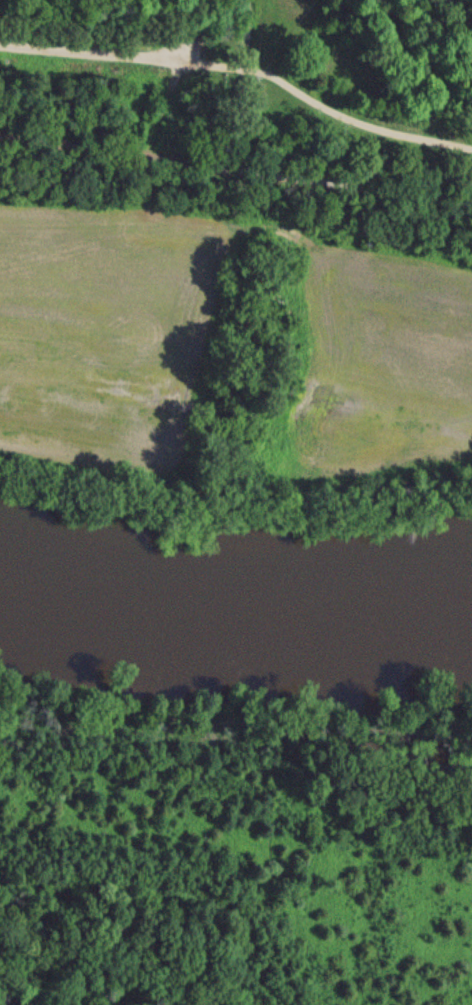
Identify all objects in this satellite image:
road: (413, 65)
road: (243, 71)
road: (236, 162)
river: (235, 590)

